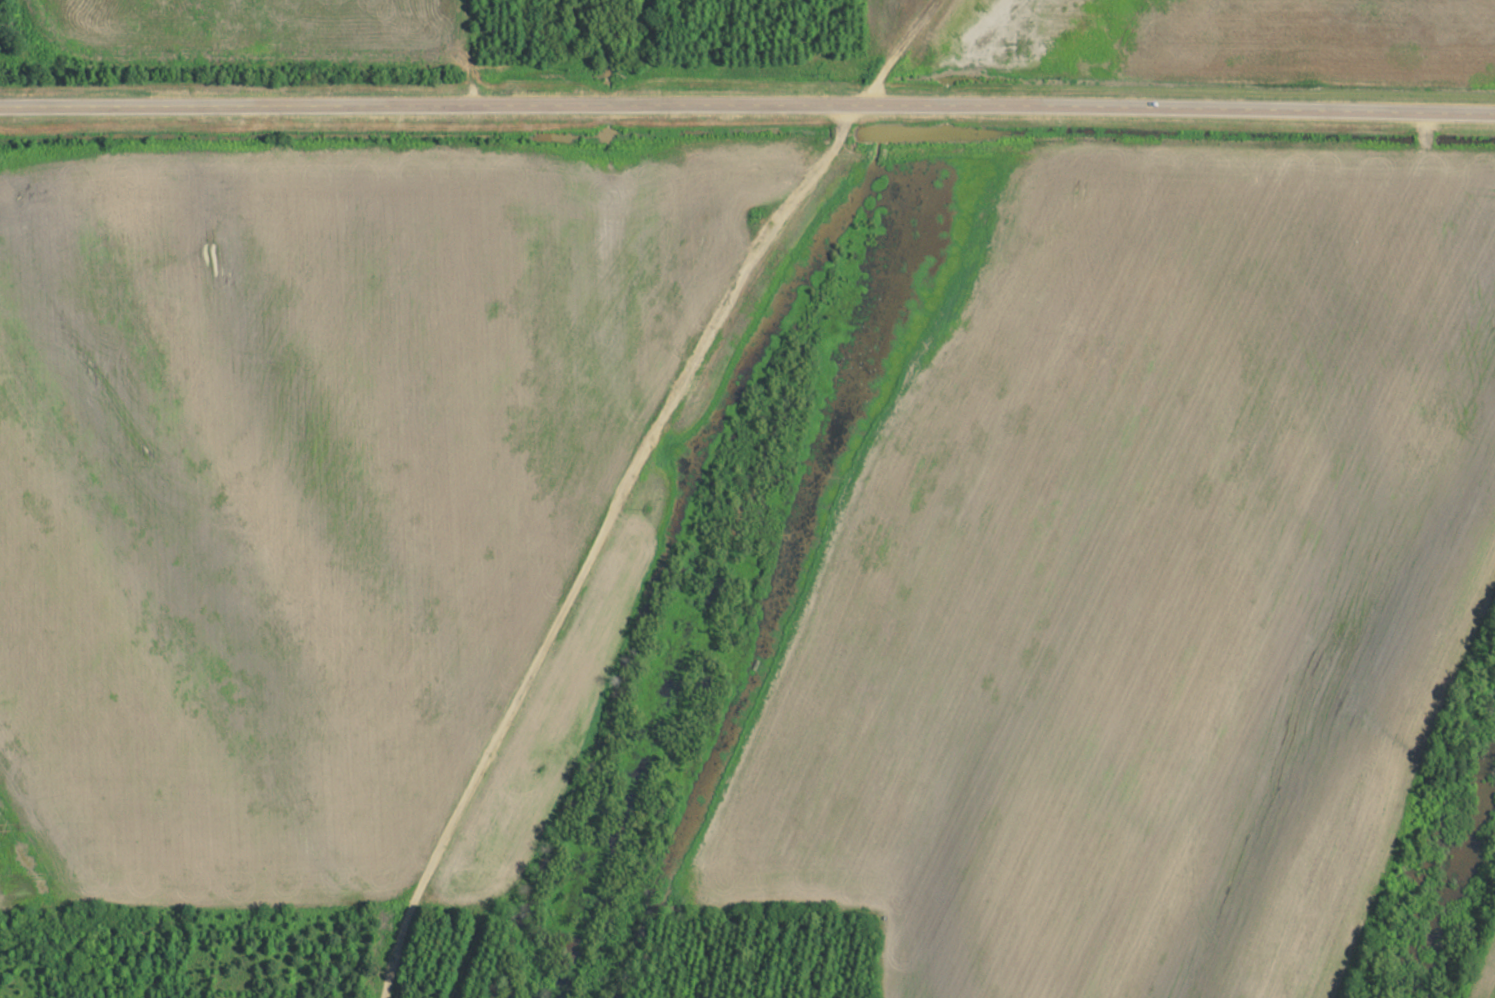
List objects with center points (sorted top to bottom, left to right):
road: (897, 52)
road: (747, 106)
road: (599, 540)

